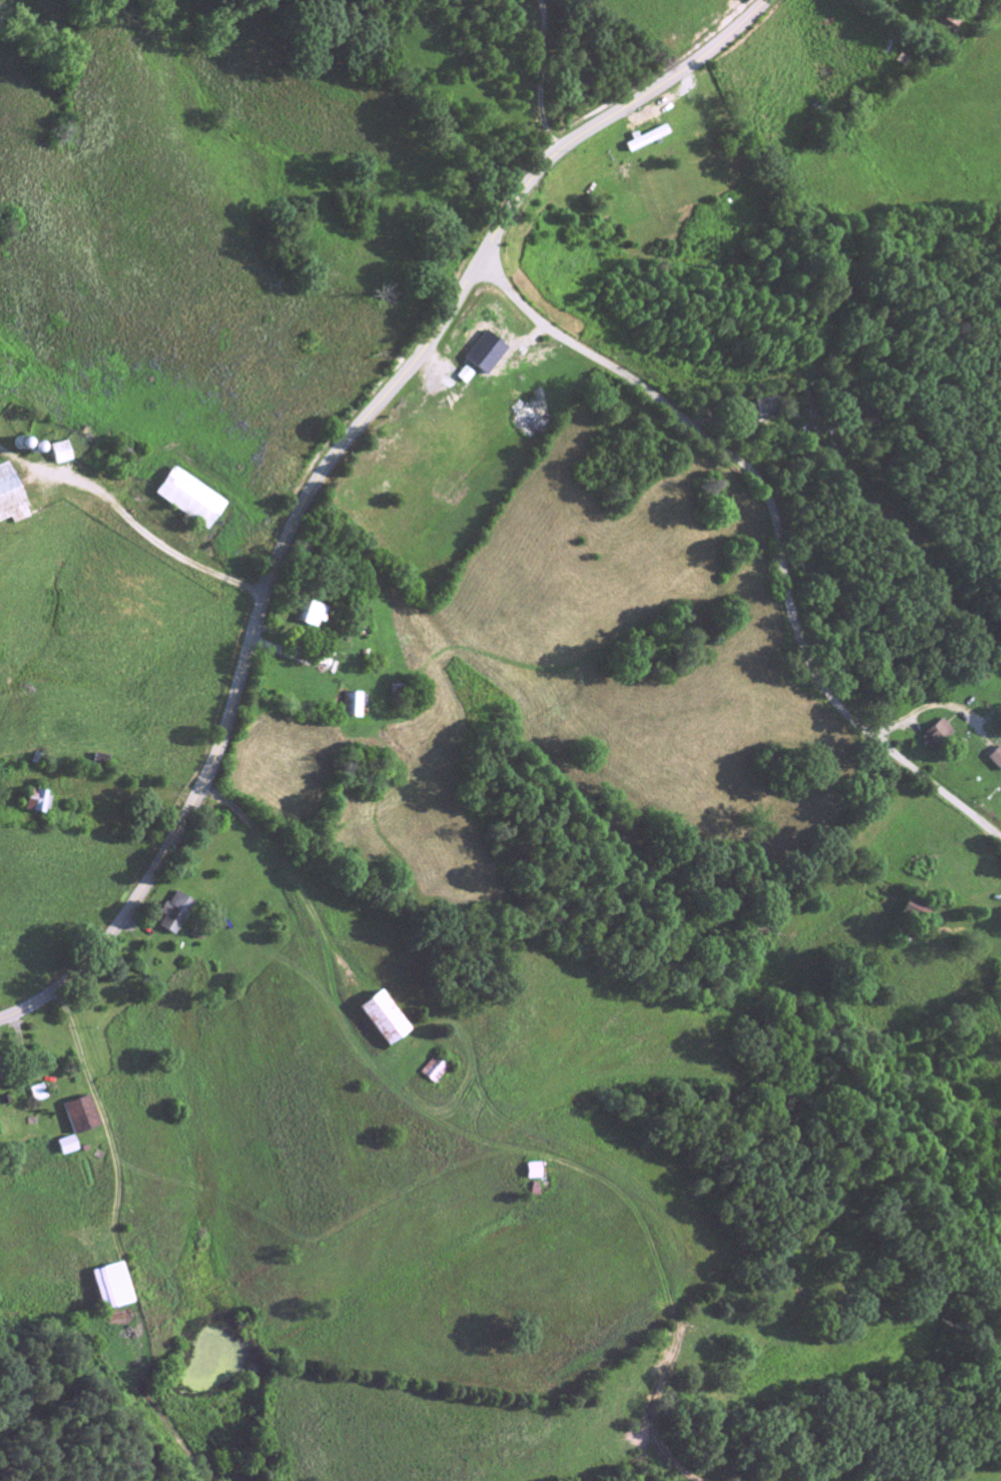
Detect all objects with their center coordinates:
road: (536, 79)
building: (473, 362)
building: (767, 411)
building: (59, 455)
road: (325, 471)
building: (9, 501)
building: (188, 501)
road: (775, 525)
road: (140, 537)
building: (310, 617)
building: (352, 708)
building: (936, 736)
building: (996, 759)
building: (36, 803)
building: (175, 915)
building: (382, 1020)
building: (78, 1116)
building: (63, 1147)
building: (532, 1173)
building: (108, 1288)

